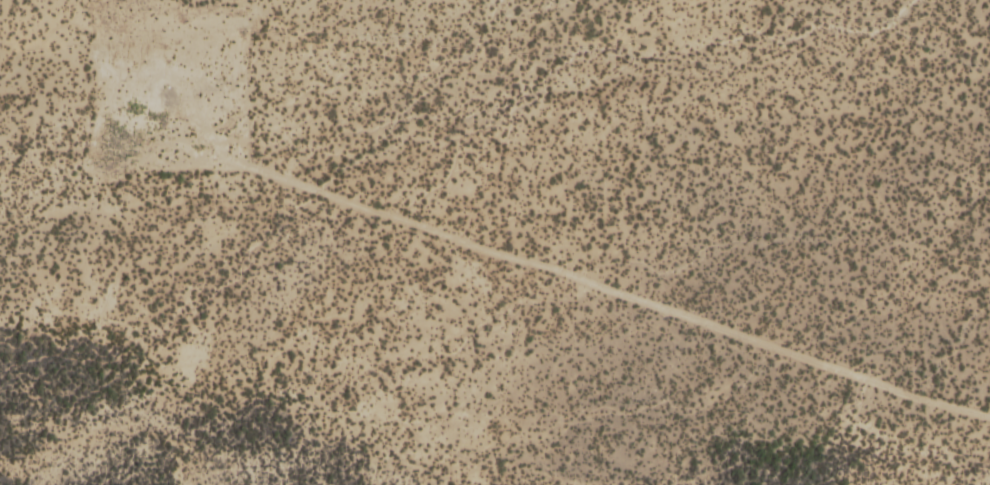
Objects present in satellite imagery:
building: (242, 3)
building: (132, 23)
building: (41, 29)

